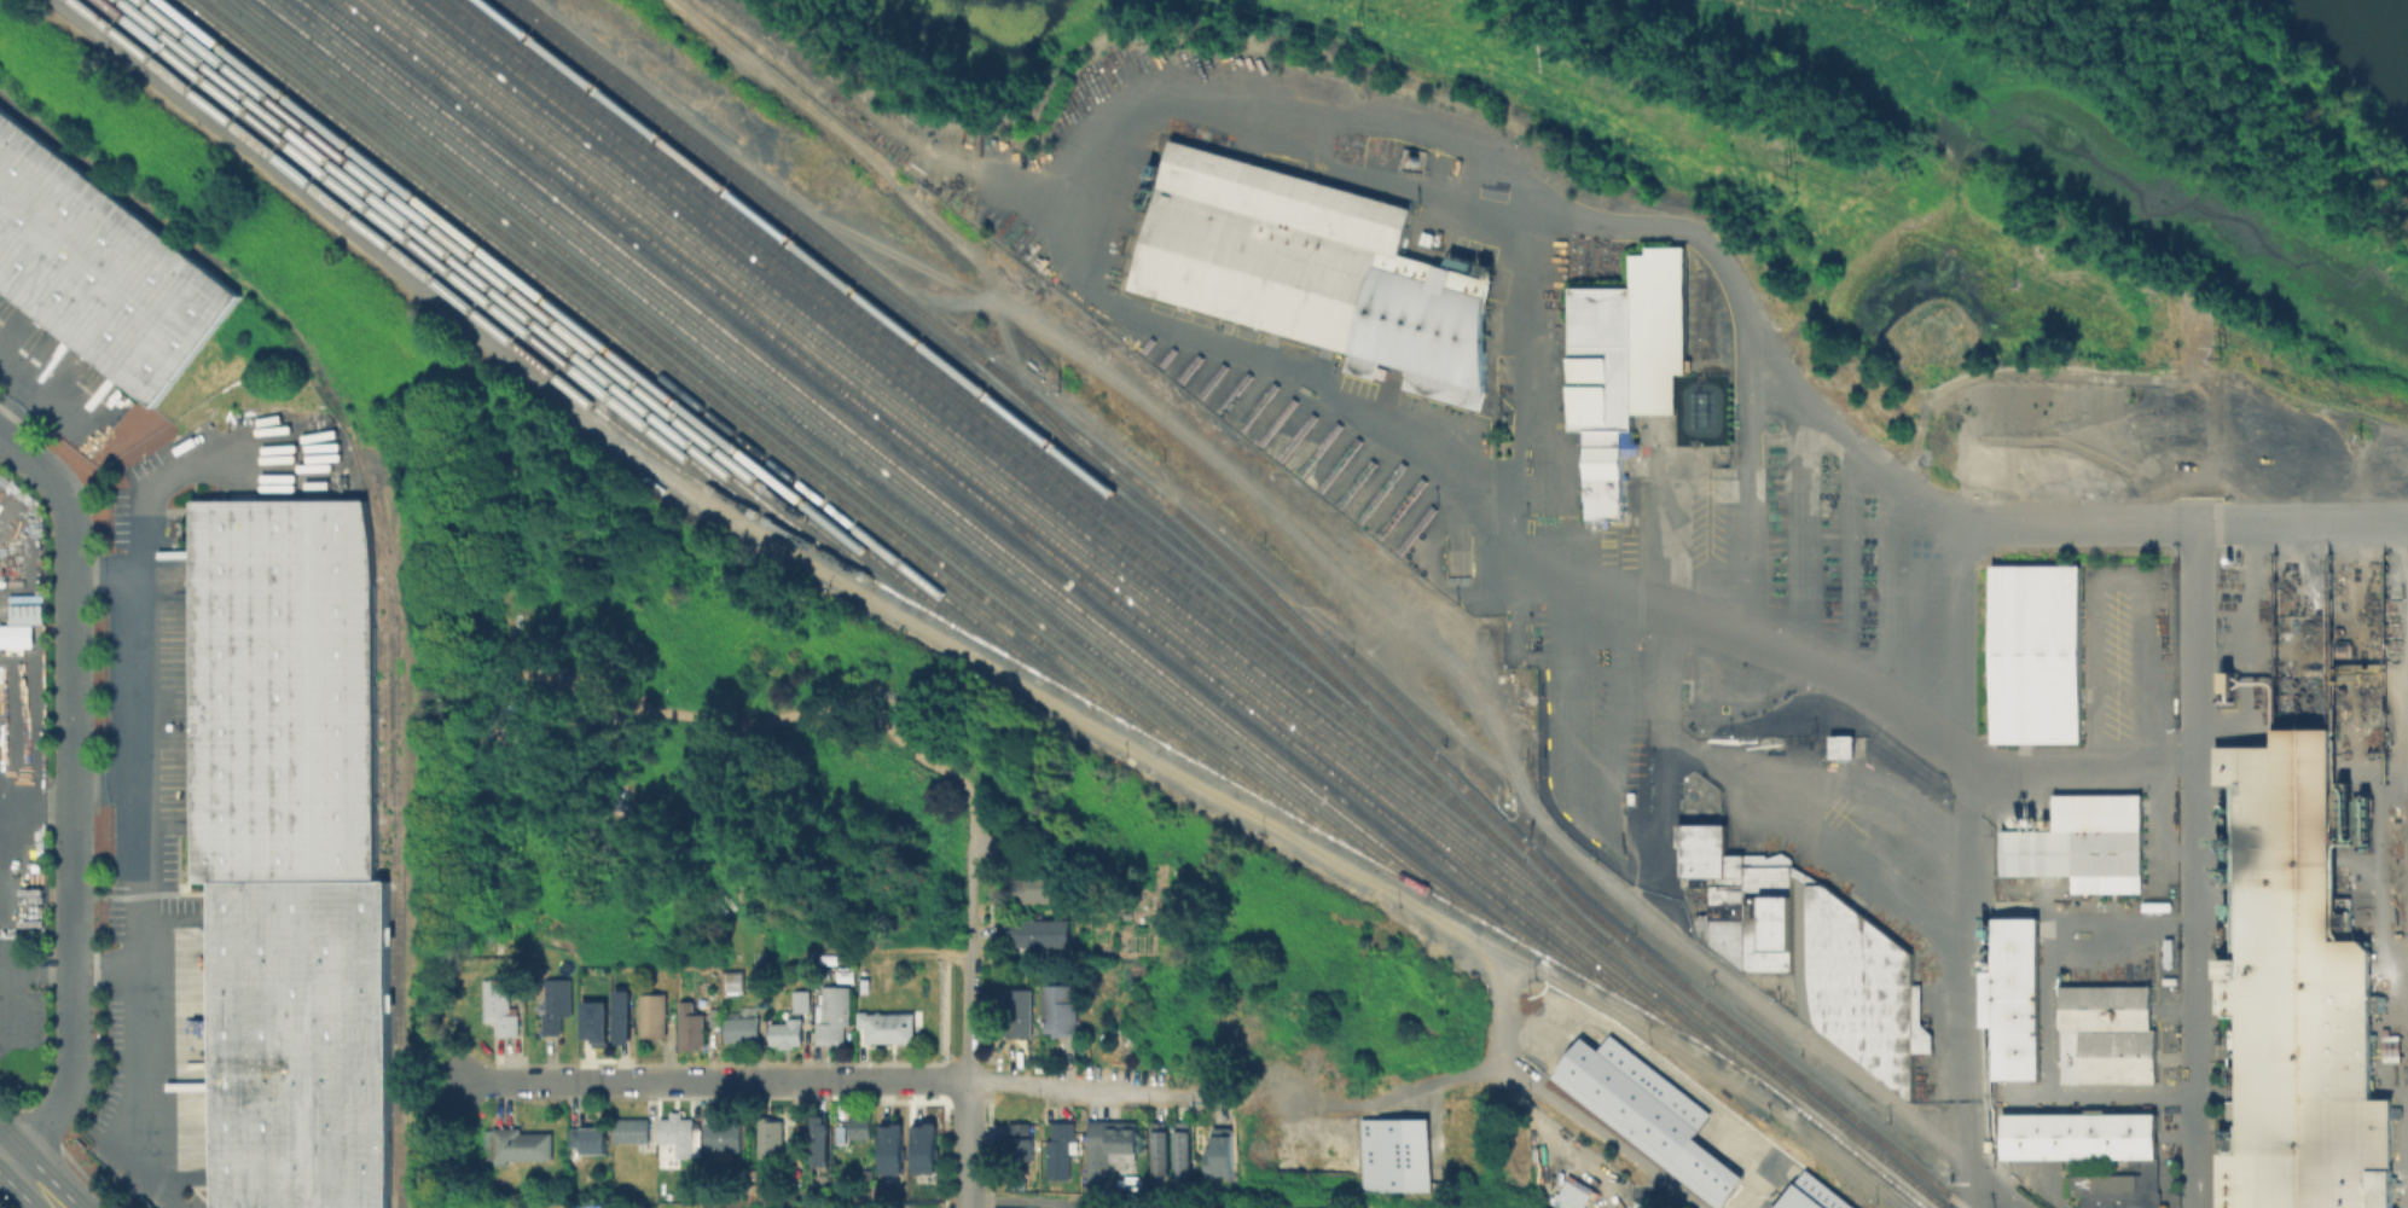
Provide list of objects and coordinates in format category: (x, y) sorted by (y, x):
railway: (111, 185)
railway: (445, 268)
building: (99, 269)
building: (1315, 271)
road: (1097, 285)
railway: (493, 291)
railway: (539, 310)
railway: (880, 313)
railway: (586, 331)
railway: (632, 350)
railway: (910, 350)
building: (1617, 370)
railway: (678, 372)
road: (7, 385)
railway: (939, 389)
railway: (726, 394)
railway: (770, 413)
railway: (1044, 416)
railway: (969, 428)
railway: (814, 432)
railway: (860, 452)
railway: (1002, 469)
railway: (904, 470)
railway: (948, 489)
railway: (997, 510)
road: (2048, 524)
railway: (1038, 528)
railway: (390, 563)
railway: (1238, 586)
railway: (1258, 587)
railway: (897, 592)
railway: (1153, 604)
building: (29, 611)
building: (16, 635)
building: (2033, 651)
railway: (383, 668)
road: (1841, 678)
railway: (2407, 734)
building: (1839, 744)
road: (1510, 755)
railway: (2400, 755)
road: (2078, 759)
road: (70, 795)
road: (1764, 797)
road: (34, 801)
building: (2081, 842)
building: (289, 846)
road: (1961, 847)
road: (137, 859)
road: (2194, 866)
building: (1037, 887)
building: (1741, 896)
road: (105, 898)
road: (967, 902)
building: (1035, 930)
railway: (2389, 930)
road: (924, 953)
road: (106, 970)
road: (13, 975)
building: (730, 975)
building: (1861, 986)
building: (2294, 994)
building: (2010, 995)
road: (1753, 999)
building: (555, 1001)
building: (503, 1005)
building: (1061, 1009)
building: (1019, 1010)
building: (655, 1014)
building: (715, 1015)
building: (835, 1015)
road: (1503, 1015)
building: (620, 1016)
building: (793, 1020)
building: (592, 1021)
building: (739, 1024)
building: (888, 1026)
building: (692, 1029)
building: (2104, 1032)
road: (979, 1067)
road: (713, 1080)
road: (1106, 1082)
road: (968, 1086)
road: (1099, 1090)
road: (1397, 1093)
road: (982, 1098)
road: (1099, 1098)
road: (962, 1099)
road: (1219, 1104)
road: (1209, 1117)
building: (1653, 1117)
parking lot: (1218, 1119)
road: (1219, 1119)
building: (860, 1126)
building: (632, 1129)
road: (1205, 1132)
building: (678, 1133)
building: (721, 1133)
building: (841, 1133)
road: (1603, 1134)
building: (771, 1137)
building: (822, 1138)
building: (1021, 1138)
building: (594, 1139)
road: (1203, 1143)
building: (516, 1144)
building: (1108, 1145)
road: (1202, 1145)
building: (889, 1146)
building: (922, 1146)
building: (1184, 1146)
building: (1160, 1148)
building: (1217, 1149)
building: (1061, 1150)
building: (2088, 1150)
road: (985, 1151)
road: (4, 1154)
building: (1392, 1154)
road: (1199, 1156)
building: (1770, 1172)
road: (1207, 1173)
road: (1211, 1174)
road: (33, 1183)
road: (1234, 1184)
road: (1968, 1189)
road: (1992, 1189)
building: (690, 1191)
building: (754, 1191)
building: (1215, 1195)
building: (1814, 1195)
building: (1083, 1207)

